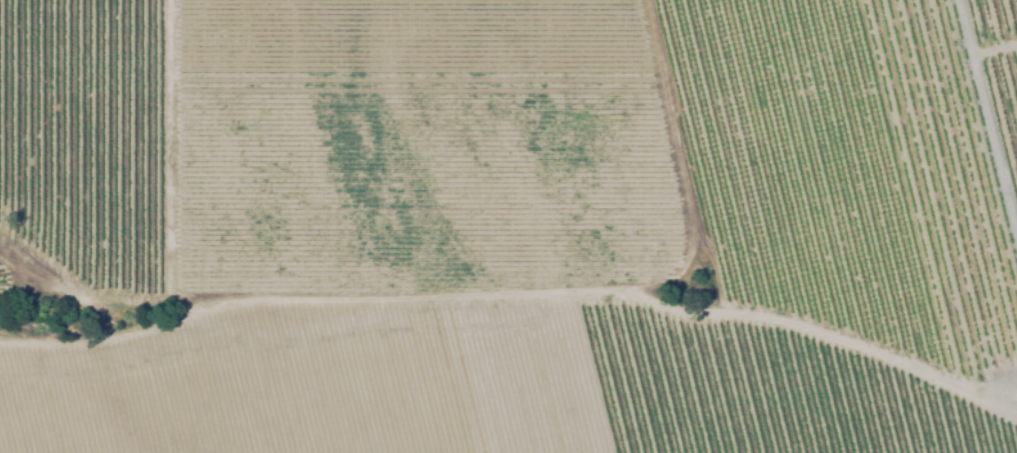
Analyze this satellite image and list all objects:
road: (988, 48)
road: (981, 150)

